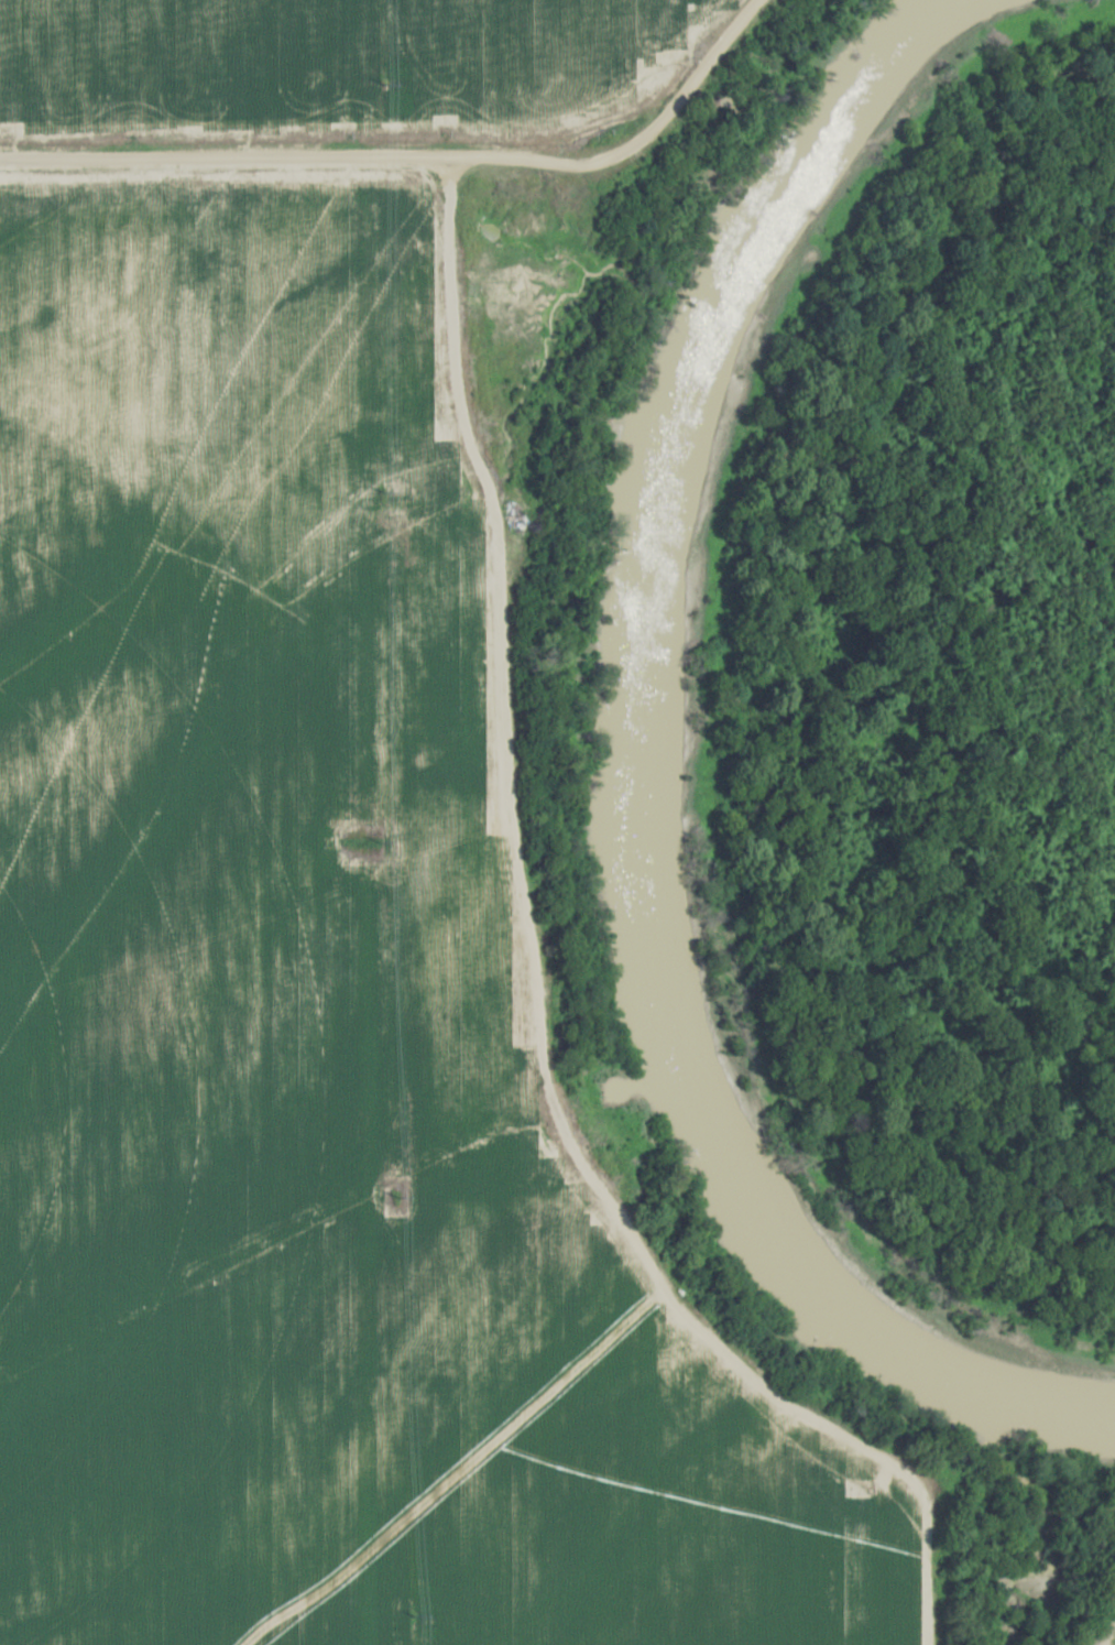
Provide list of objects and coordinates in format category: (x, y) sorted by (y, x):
road: (624, 141)
road: (217, 157)
river: (633, 793)

